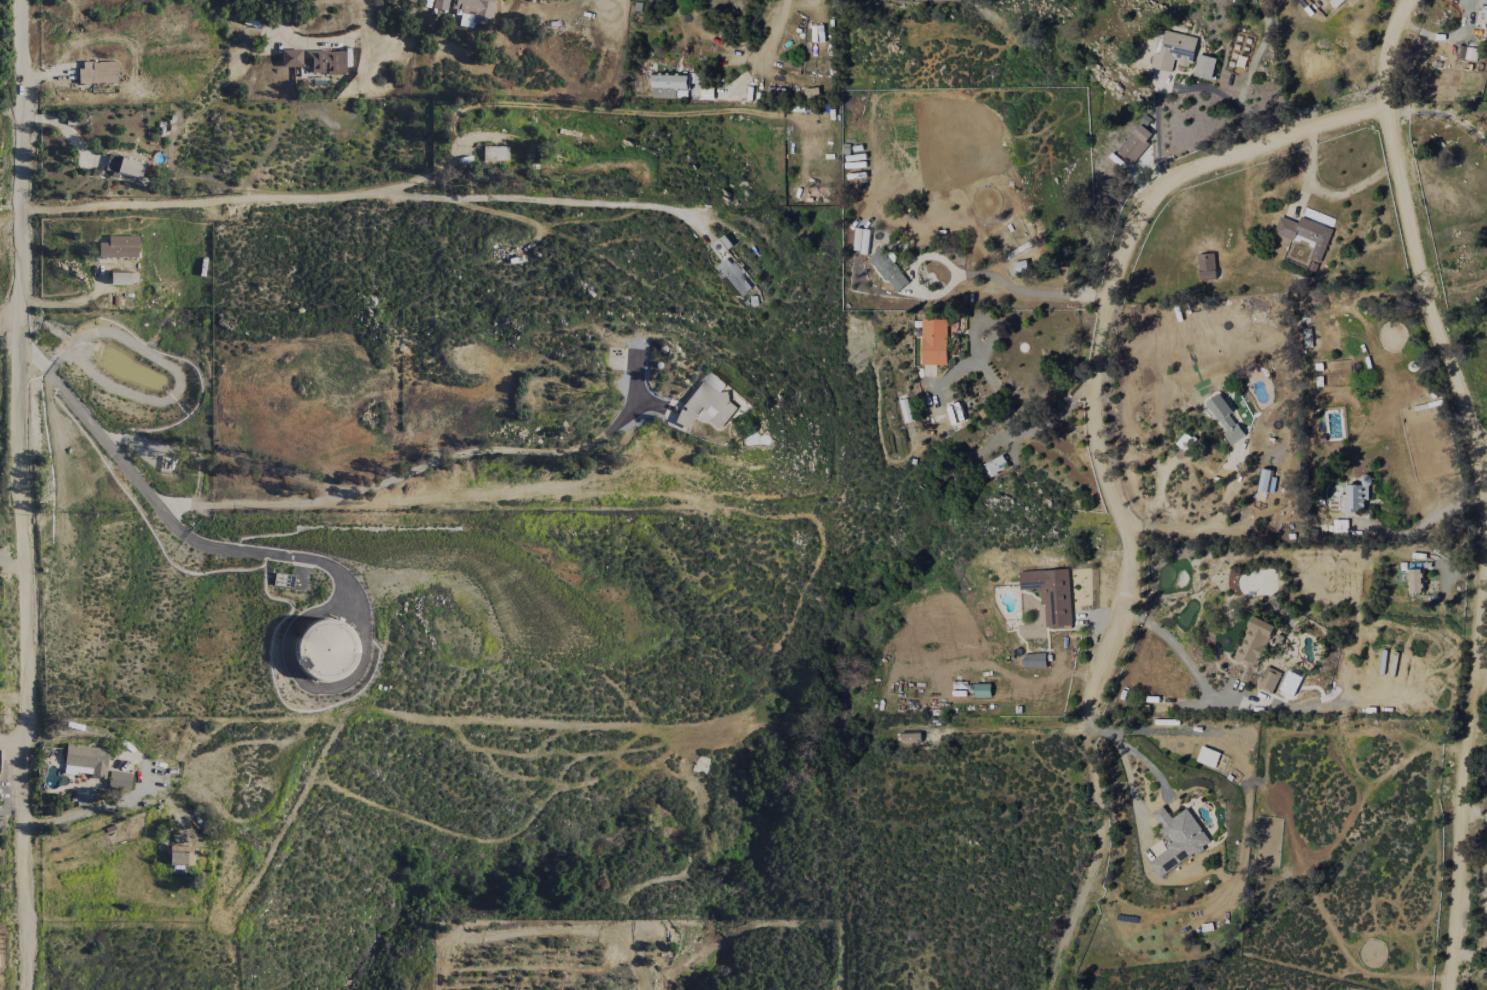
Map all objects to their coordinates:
building: (1335, 2)
building: (474, 12)
road: (767, 43)
building: (1173, 51)
building: (291, 58)
building: (325, 61)
building: (1205, 66)
building: (97, 72)
building: (670, 85)
road: (1182, 89)
building: (707, 93)
road: (1439, 115)
building: (1135, 143)
building: (495, 153)
building: (124, 166)
road: (348, 194)
building: (1306, 234)
building: (721, 246)
building: (119, 247)
building: (1207, 266)
building: (888, 269)
building: (123, 278)
building: (734, 278)
road: (1000, 281)
road: (7, 316)
building: (934, 341)
building: (715, 381)
building: (706, 405)
building: (1225, 418)
road: (1019, 428)
road: (100, 439)
building: (1186, 442)
building: (995, 465)
road: (1104, 469)
building: (1264, 480)
road: (377, 485)
road: (1481, 486)
road: (3, 487)
building: (1356, 493)
road: (7, 495)
road: (1421, 522)
building: (1340, 525)
road: (1211, 527)
road: (276, 552)
building: (1415, 580)
building: (1050, 593)
building: (1253, 641)
building: (322, 650)
road: (1180, 653)
building: (1035, 660)
building: (1269, 679)
building: (1290, 683)
building: (982, 690)
building: (910, 737)
road: (10, 744)
building: (85, 761)
building: (118, 780)
building: (85, 796)
building: (1177, 838)
building: (178, 858)
road: (579, 933)

